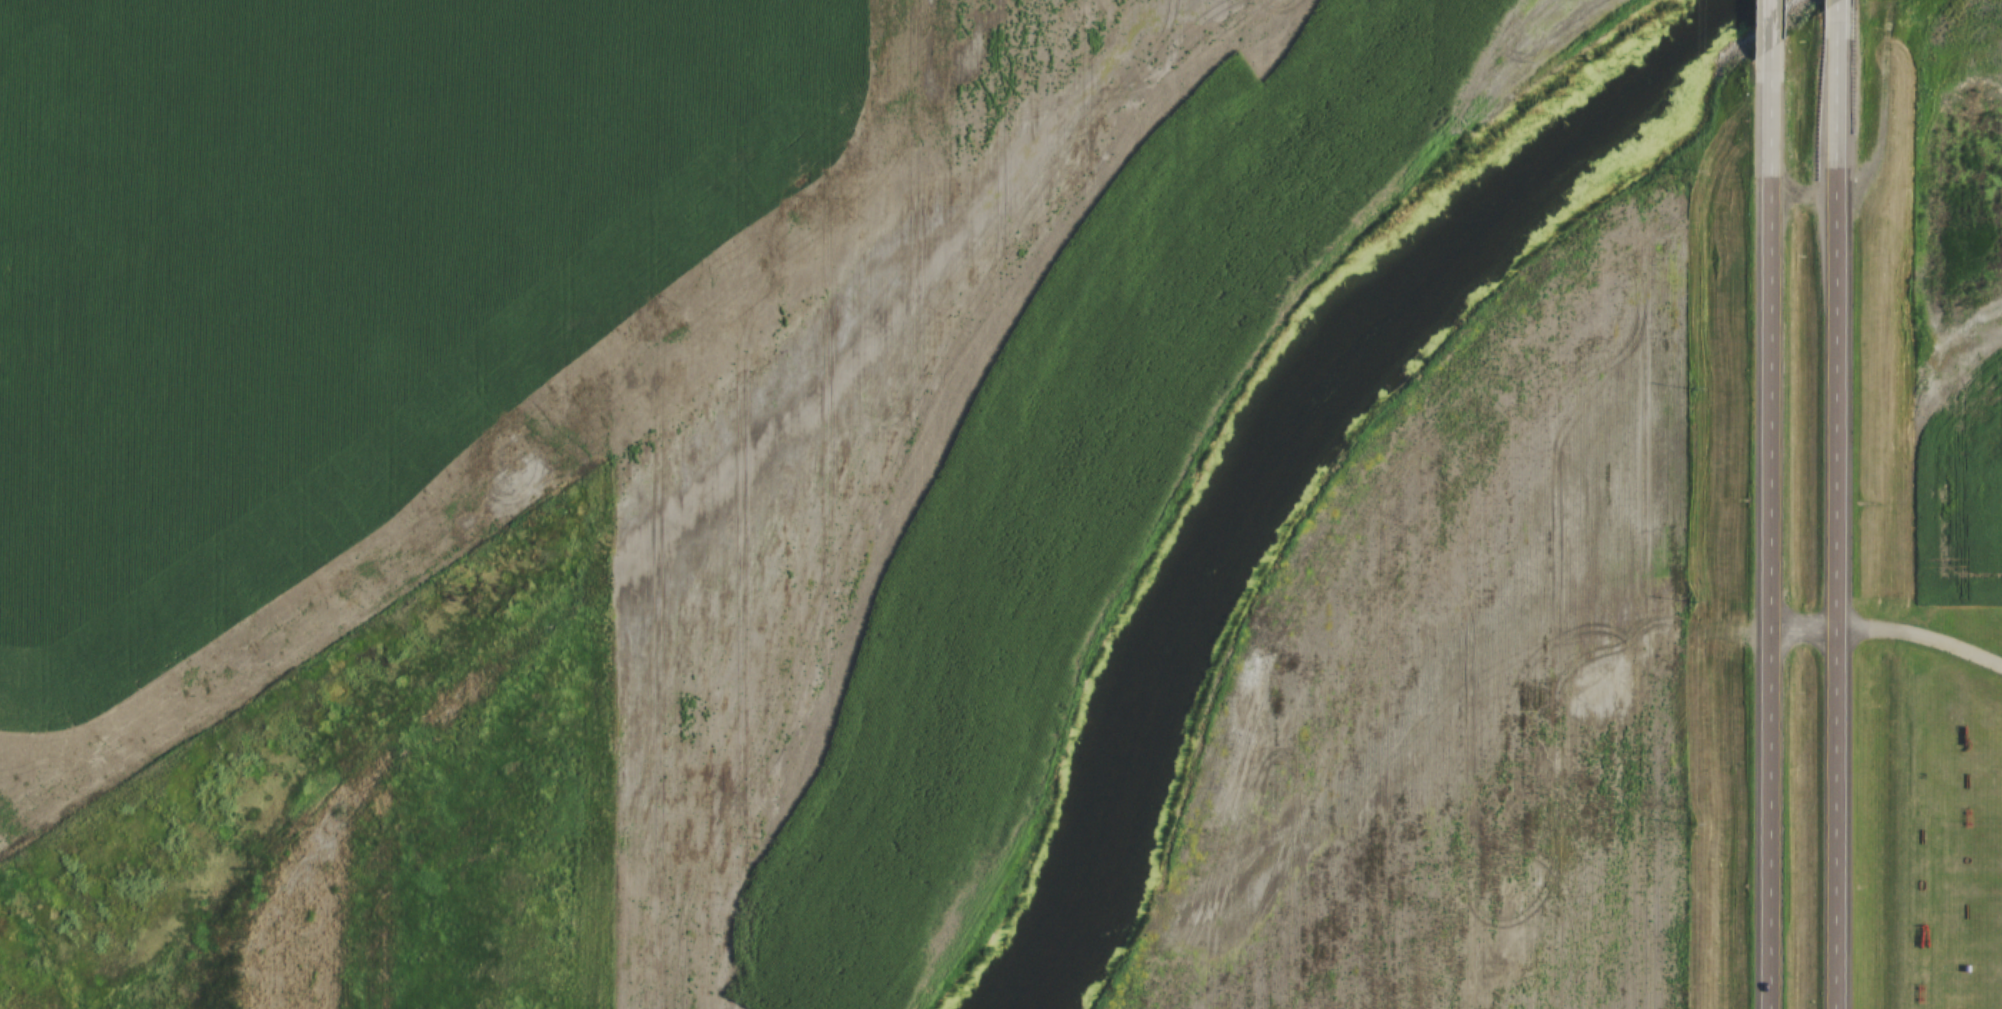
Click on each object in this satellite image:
road: (1828, 1)
road: (1757, 22)
river: (1291, 432)
road: (1829, 505)
road: (1761, 527)

